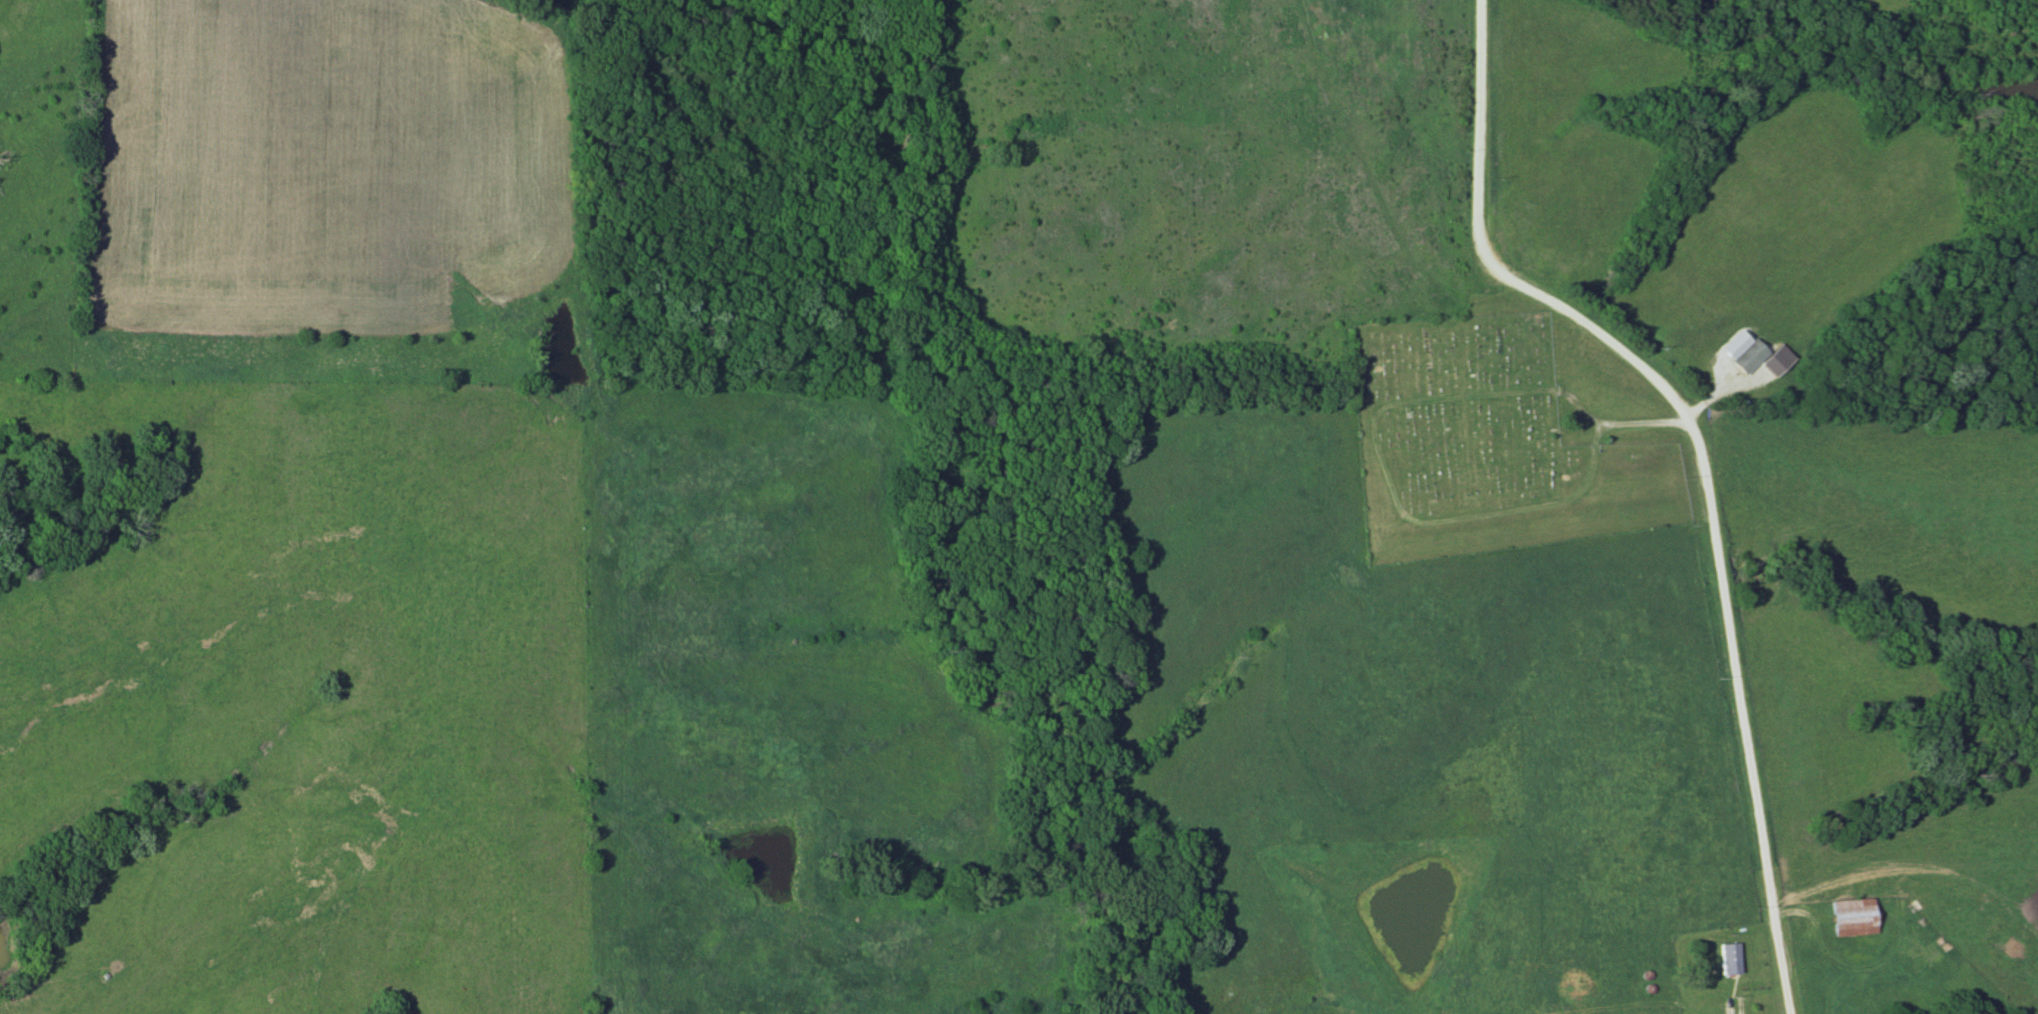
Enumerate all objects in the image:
building: (1750, 355)
park: (1489, 443)
road: (1699, 458)
building: (1856, 915)

